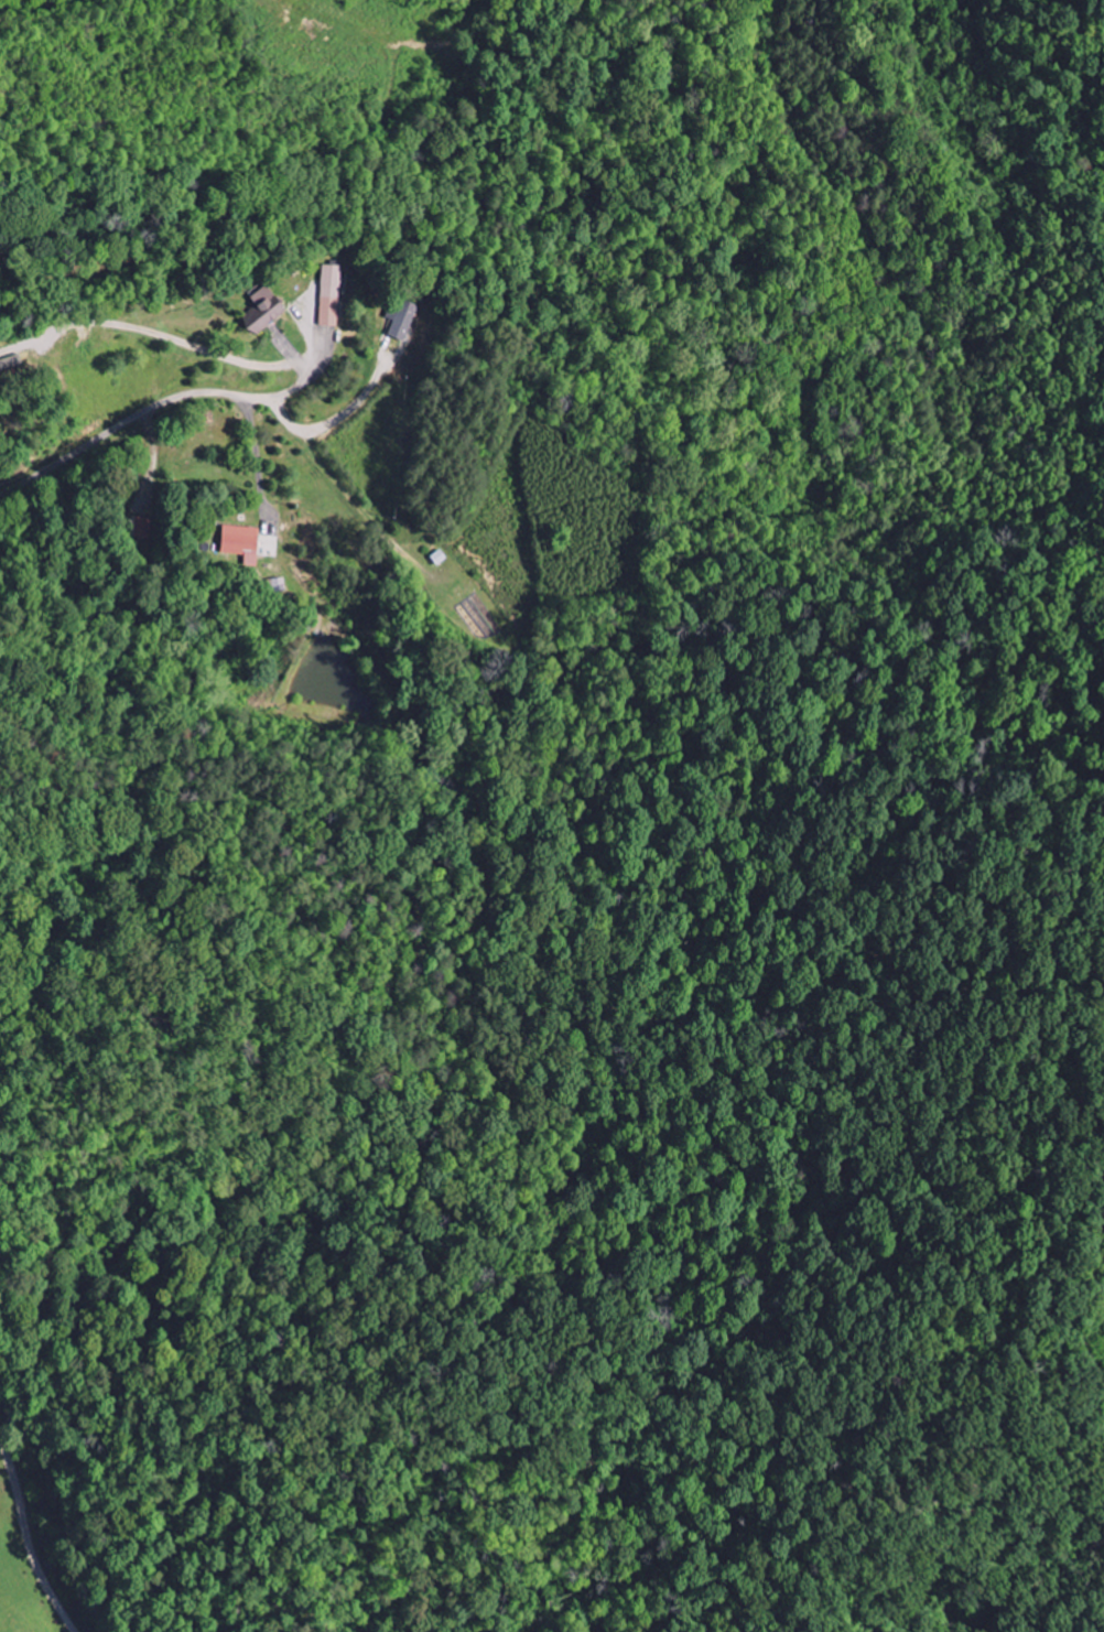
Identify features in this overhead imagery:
building: (331, 273)
building: (326, 314)
building: (259, 315)
building: (237, 543)
road: (31, 1536)

